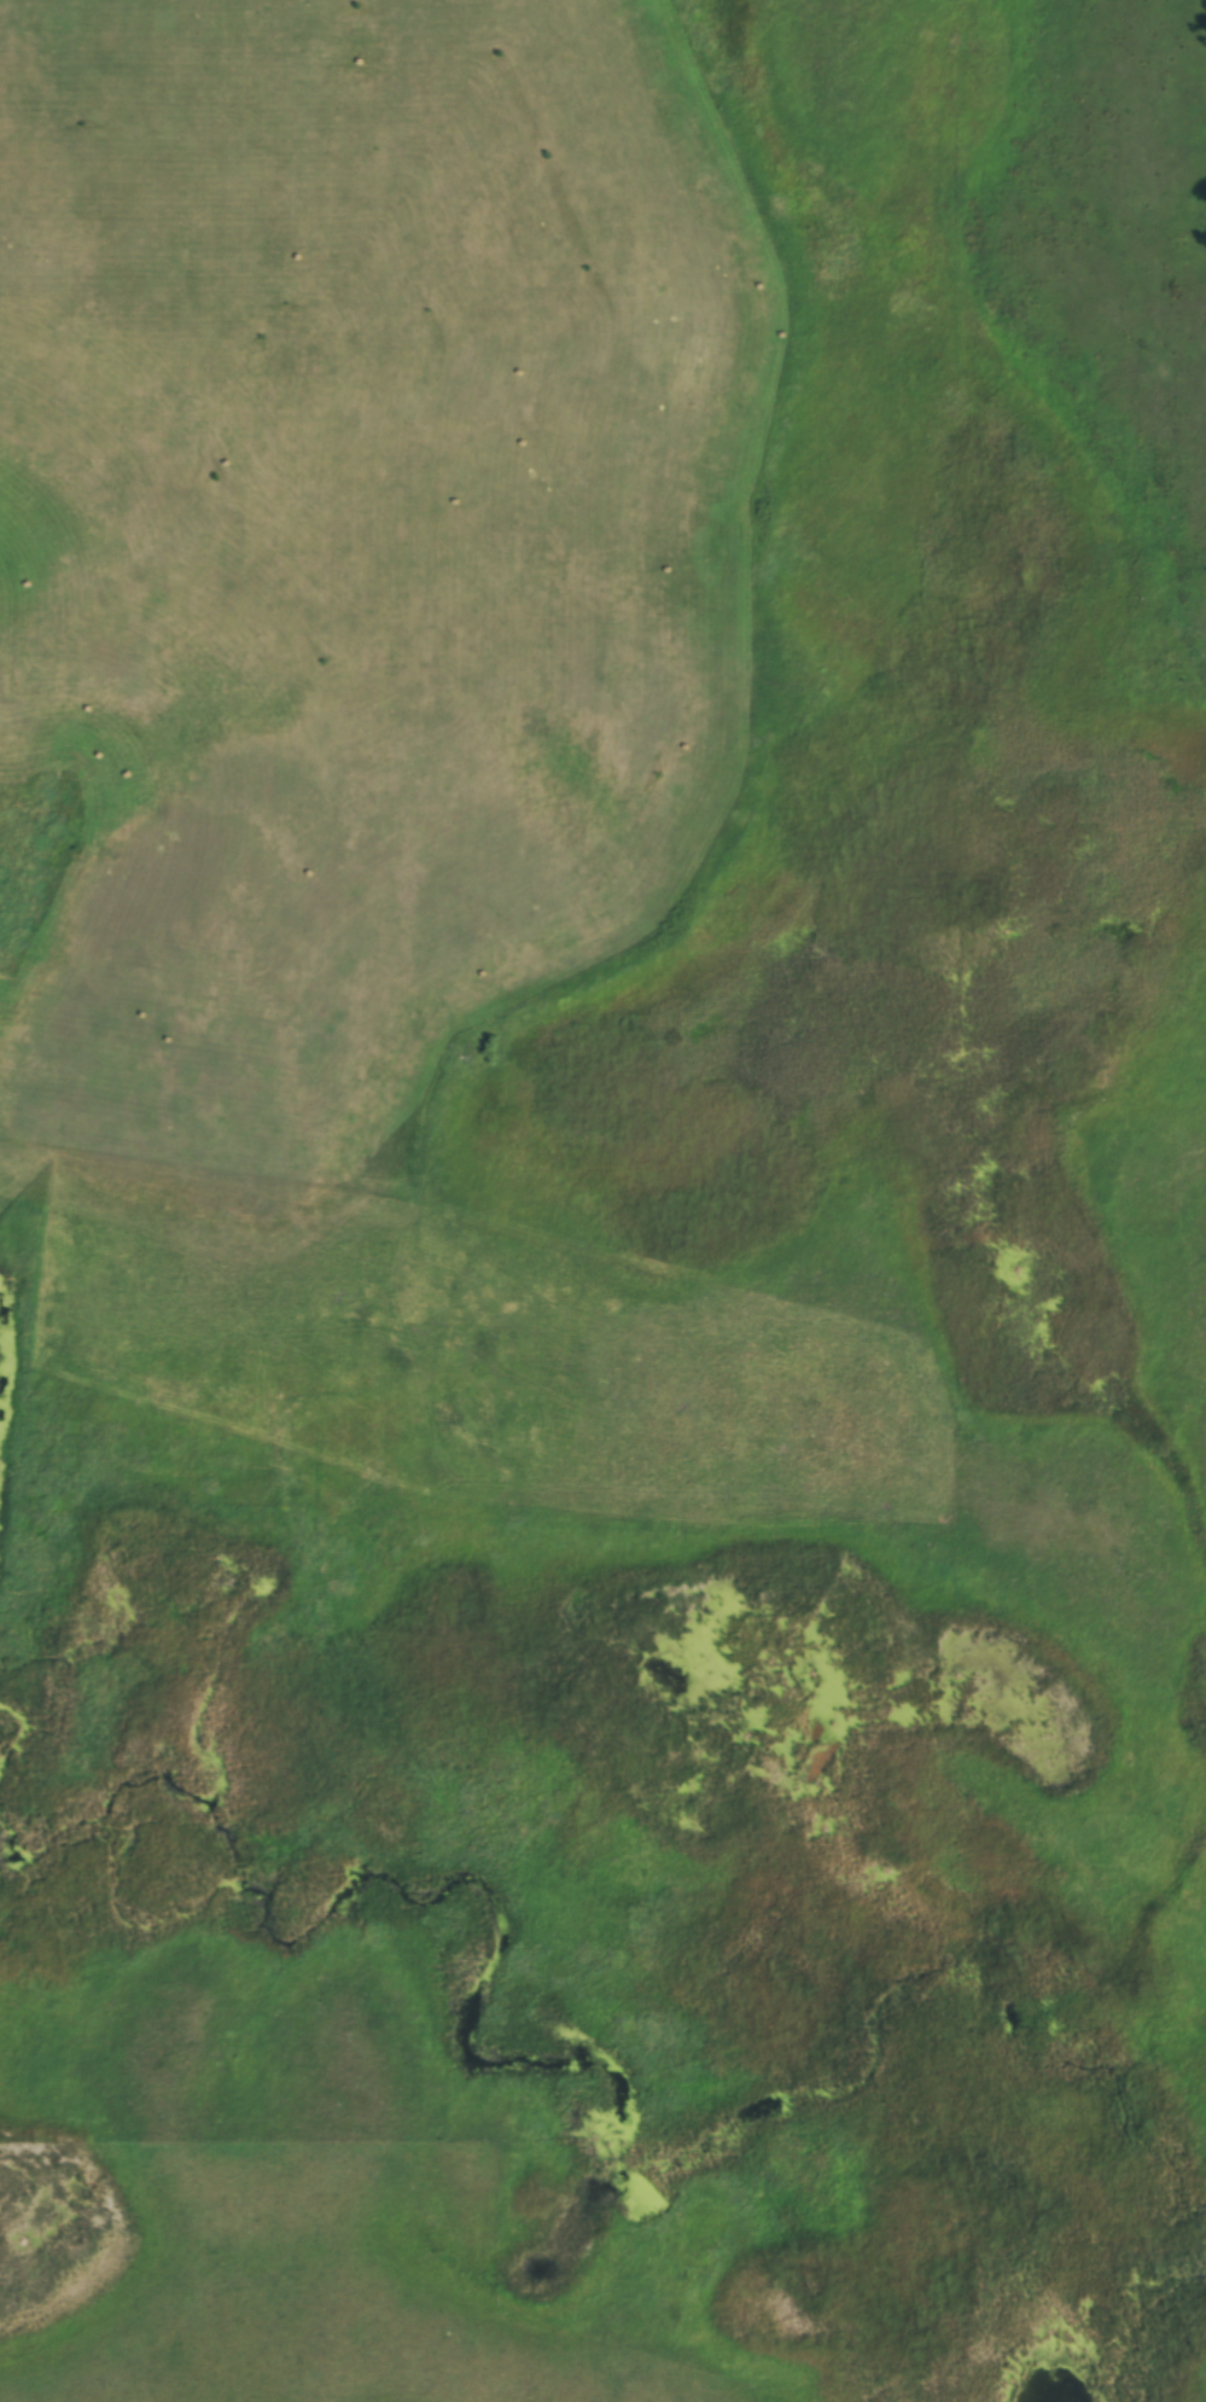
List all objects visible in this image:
river: (21, 1828)

